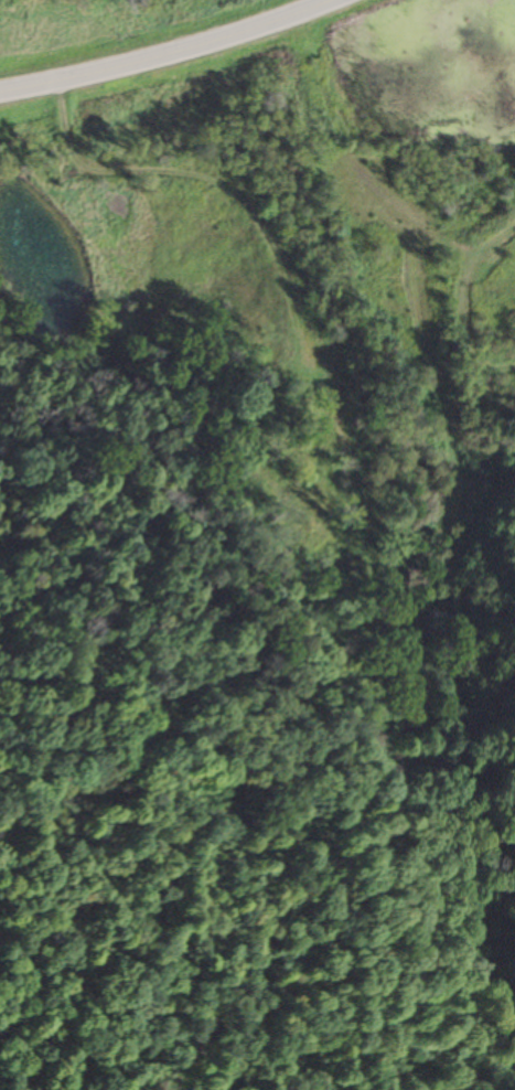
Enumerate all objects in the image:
road: (169, 53)

